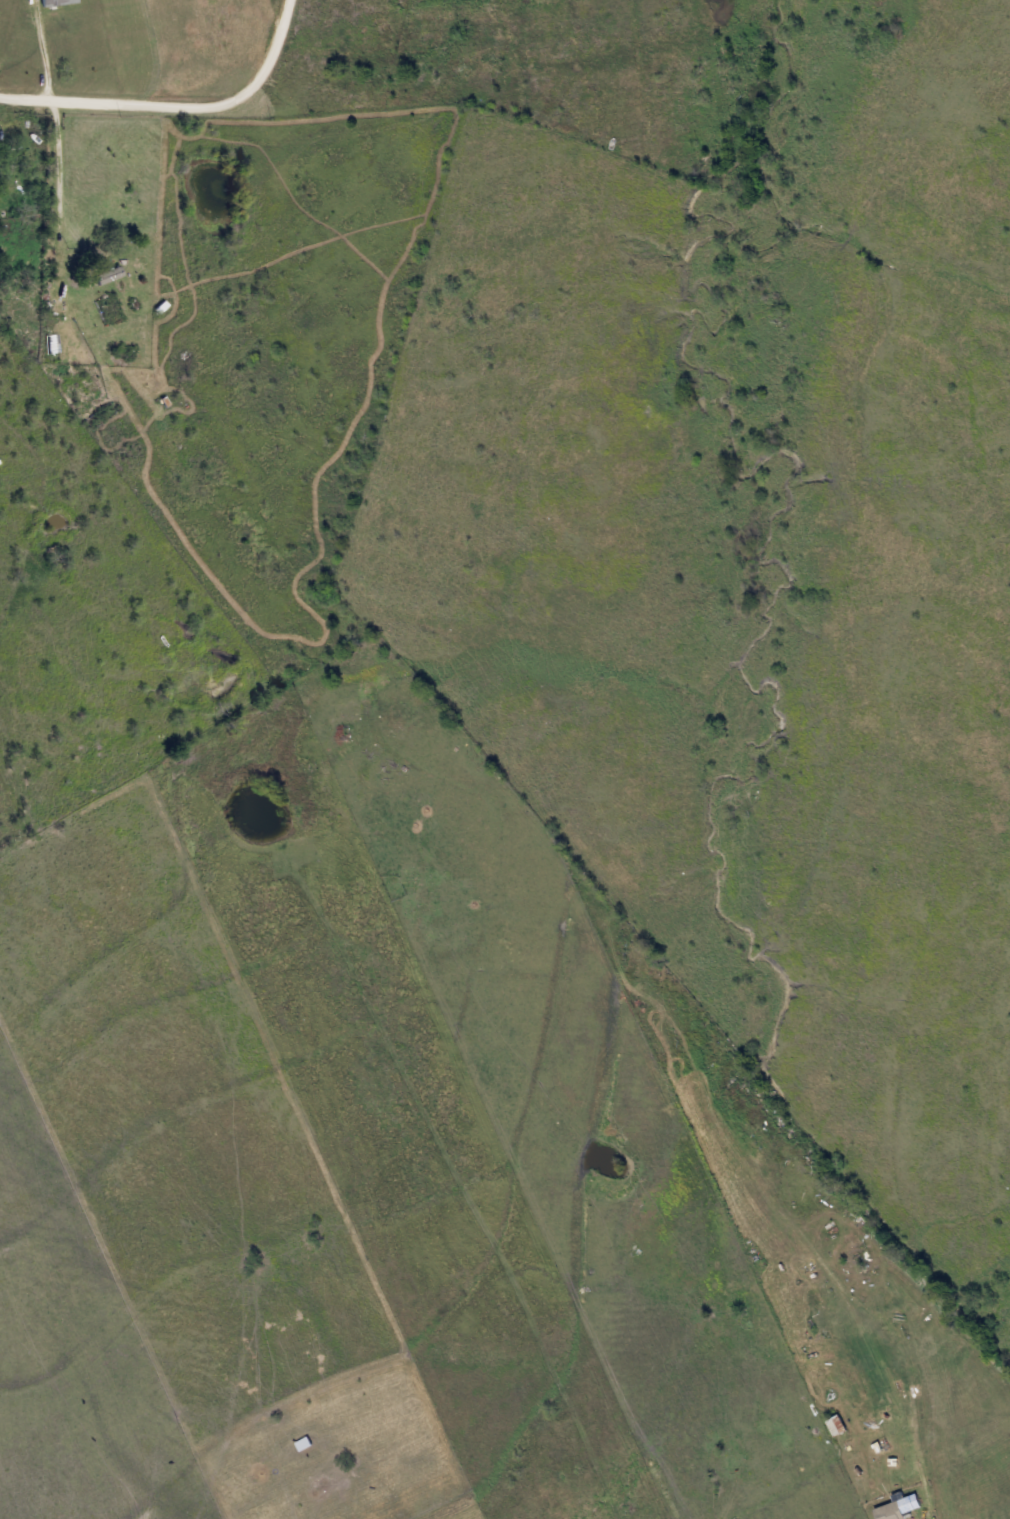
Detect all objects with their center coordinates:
building: (55, 2)
road: (182, 109)
road: (51, 118)
building: (108, 274)
building: (831, 1391)
building: (836, 1426)
building: (881, 1448)
building: (898, 1507)

